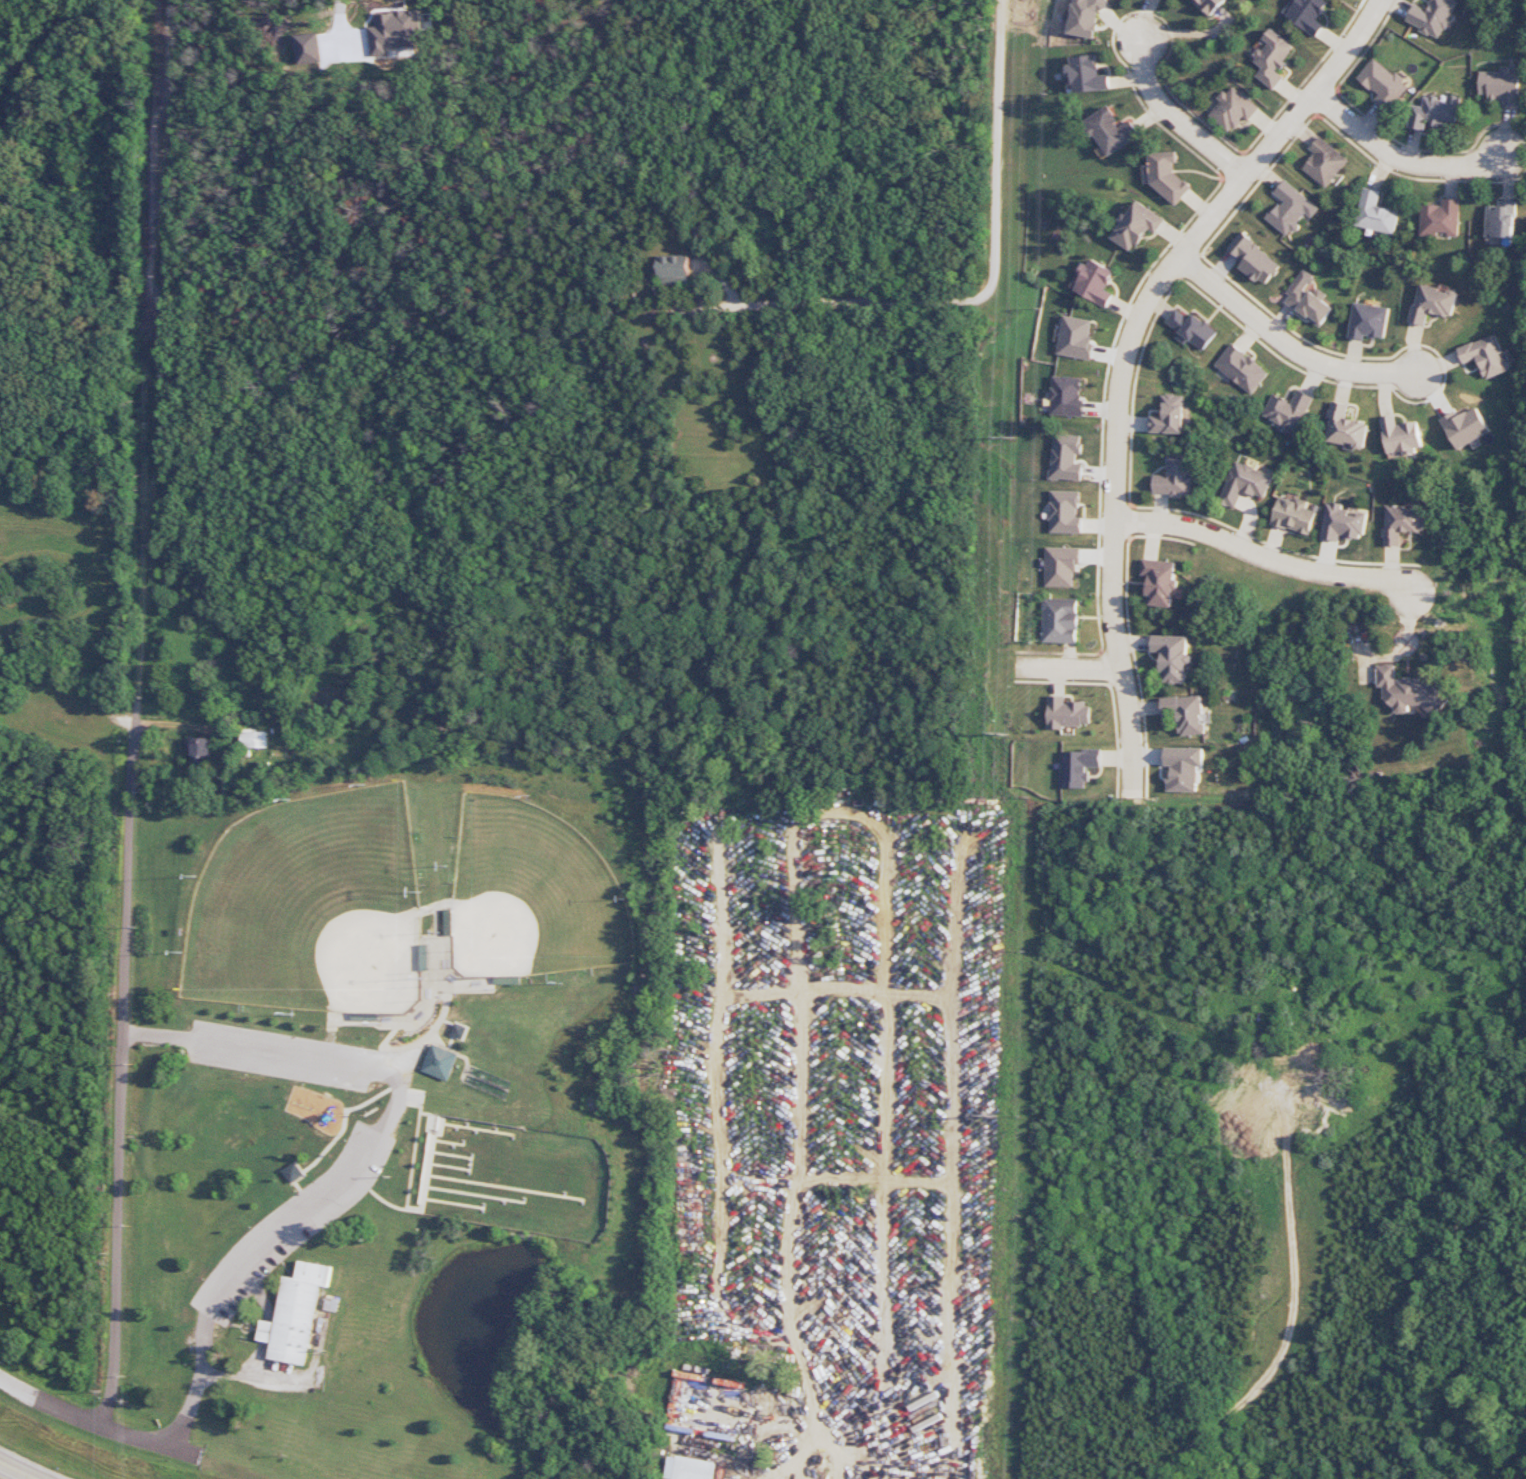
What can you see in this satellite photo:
building: (1211, 5)
building: (1307, 15)
building: (1432, 16)
building: (1086, 17)
road: (338, 30)
building: (393, 32)
building: (1273, 58)
building: (1088, 74)
building: (1383, 84)
building: (1500, 86)
building: (1233, 109)
building: (1434, 113)
road: (1175, 119)
building: (1111, 131)
road: (1399, 156)
building: (1324, 162)
building: (1167, 177)
building: (1289, 208)
building: (1375, 213)
building: (1441, 219)
building: (1501, 220)
building: (1136, 225)
building: (1252, 259)
building: (674, 270)
road: (984, 278)
building: (1095, 282)
building: (1307, 300)
building: (1433, 303)
building: (1368, 321)
building: (1190, 329)
building: (1076, 337)
road: (1287, 344)
building: (1487, 356)
road: (1122, 358)
building: (1241, 369)
building: (1066, 396)
building: (1288, 411)
building: (1169, 416)
building: (1344, 427)
building: (1466, 427)
power tower: (1009, 436)
building: (1401, 436)
building: (1066, 457)
building: (1175, 476)
building: (1244, 484)
building: (1065, 512)
building: (1293, 515)
building: (1401, 522)
building: (1342, 523)
road: (1263, 559)
building: (1061, 566)
building: (1159, 581)
building: (1060, 620)
building: (1172, 657)
road: (1067, 665)
building: (1408, 691)
building: (1067, 713)
building: (1185, 714)
power tower: (1007, 734)
building: (255, 739)
building: (201, 751)
building: (1077, 767)
building: (1183, 768)
road: (128, 874)
park: (531, 895)
road: (434, 906)
park: (311, 908)
road: (461, 989)
road: (447, 1022)
road: (414, 1023)
building: (459, 1030)
road: (388, 1037)
road: (433, 1039)
road: (418, 1042)
road: (450, 1043)
road: (447, 1050)
building: (439, 1062)
road: (467, 1064)
park: (405, 1090)
road: (370, 1099)
road: (431, 1116)
power tower: (997, 1117)
road: (331, 1145)
parking lot: (355, 1166)
building: (294, 1173)
building: (517, 1178)
park: (517, 1178)
road: (335, 1184)
road: (408, 1193)
road: (303, 1195)
road: (416, 1209)
road: (116, 1230)
building: (295, 1314)
road: (47, 1403)
building: (688, 1468)
road: (16, 1472)

